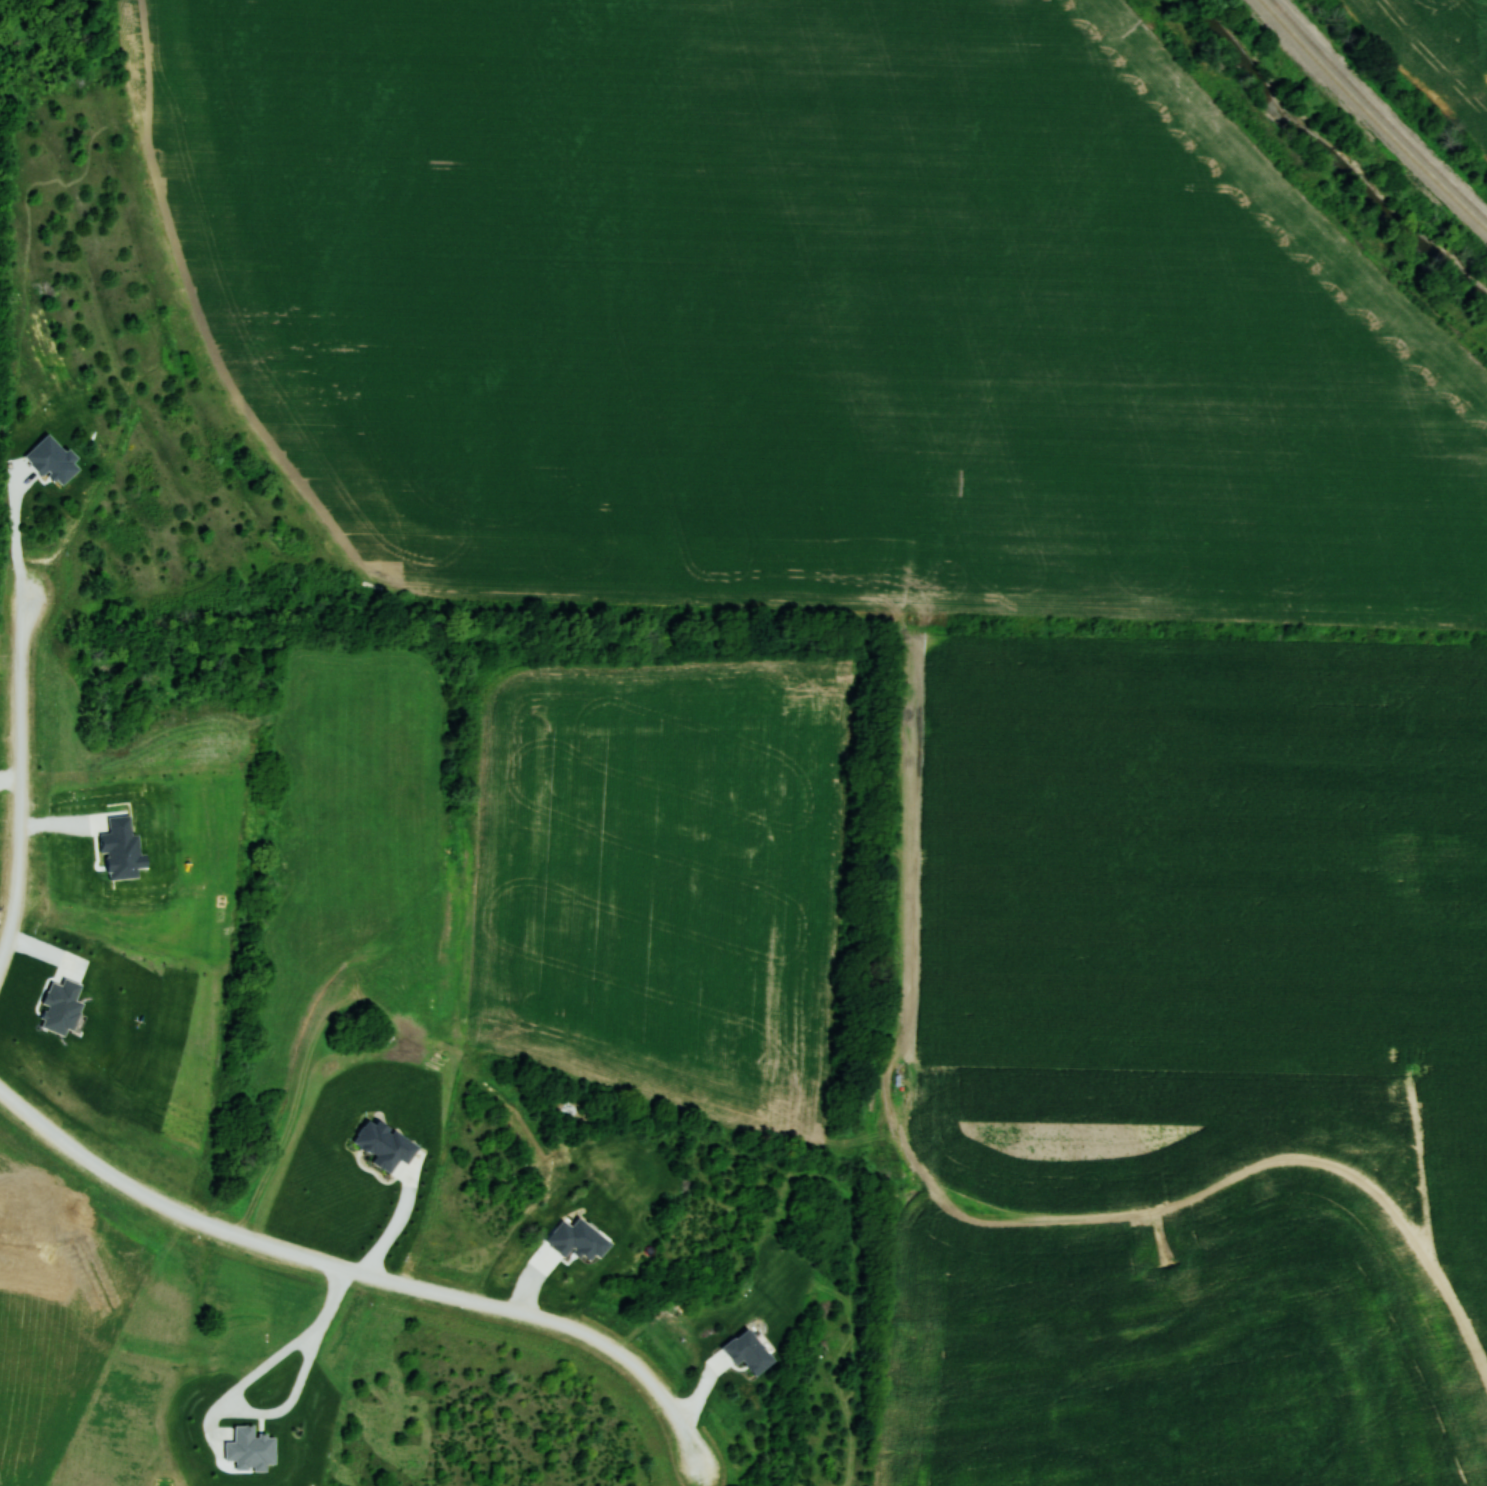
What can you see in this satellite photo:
railway: (1379, 109)
railway: (1371, 115)
road: (19, 783)
road: (359, 1272)

